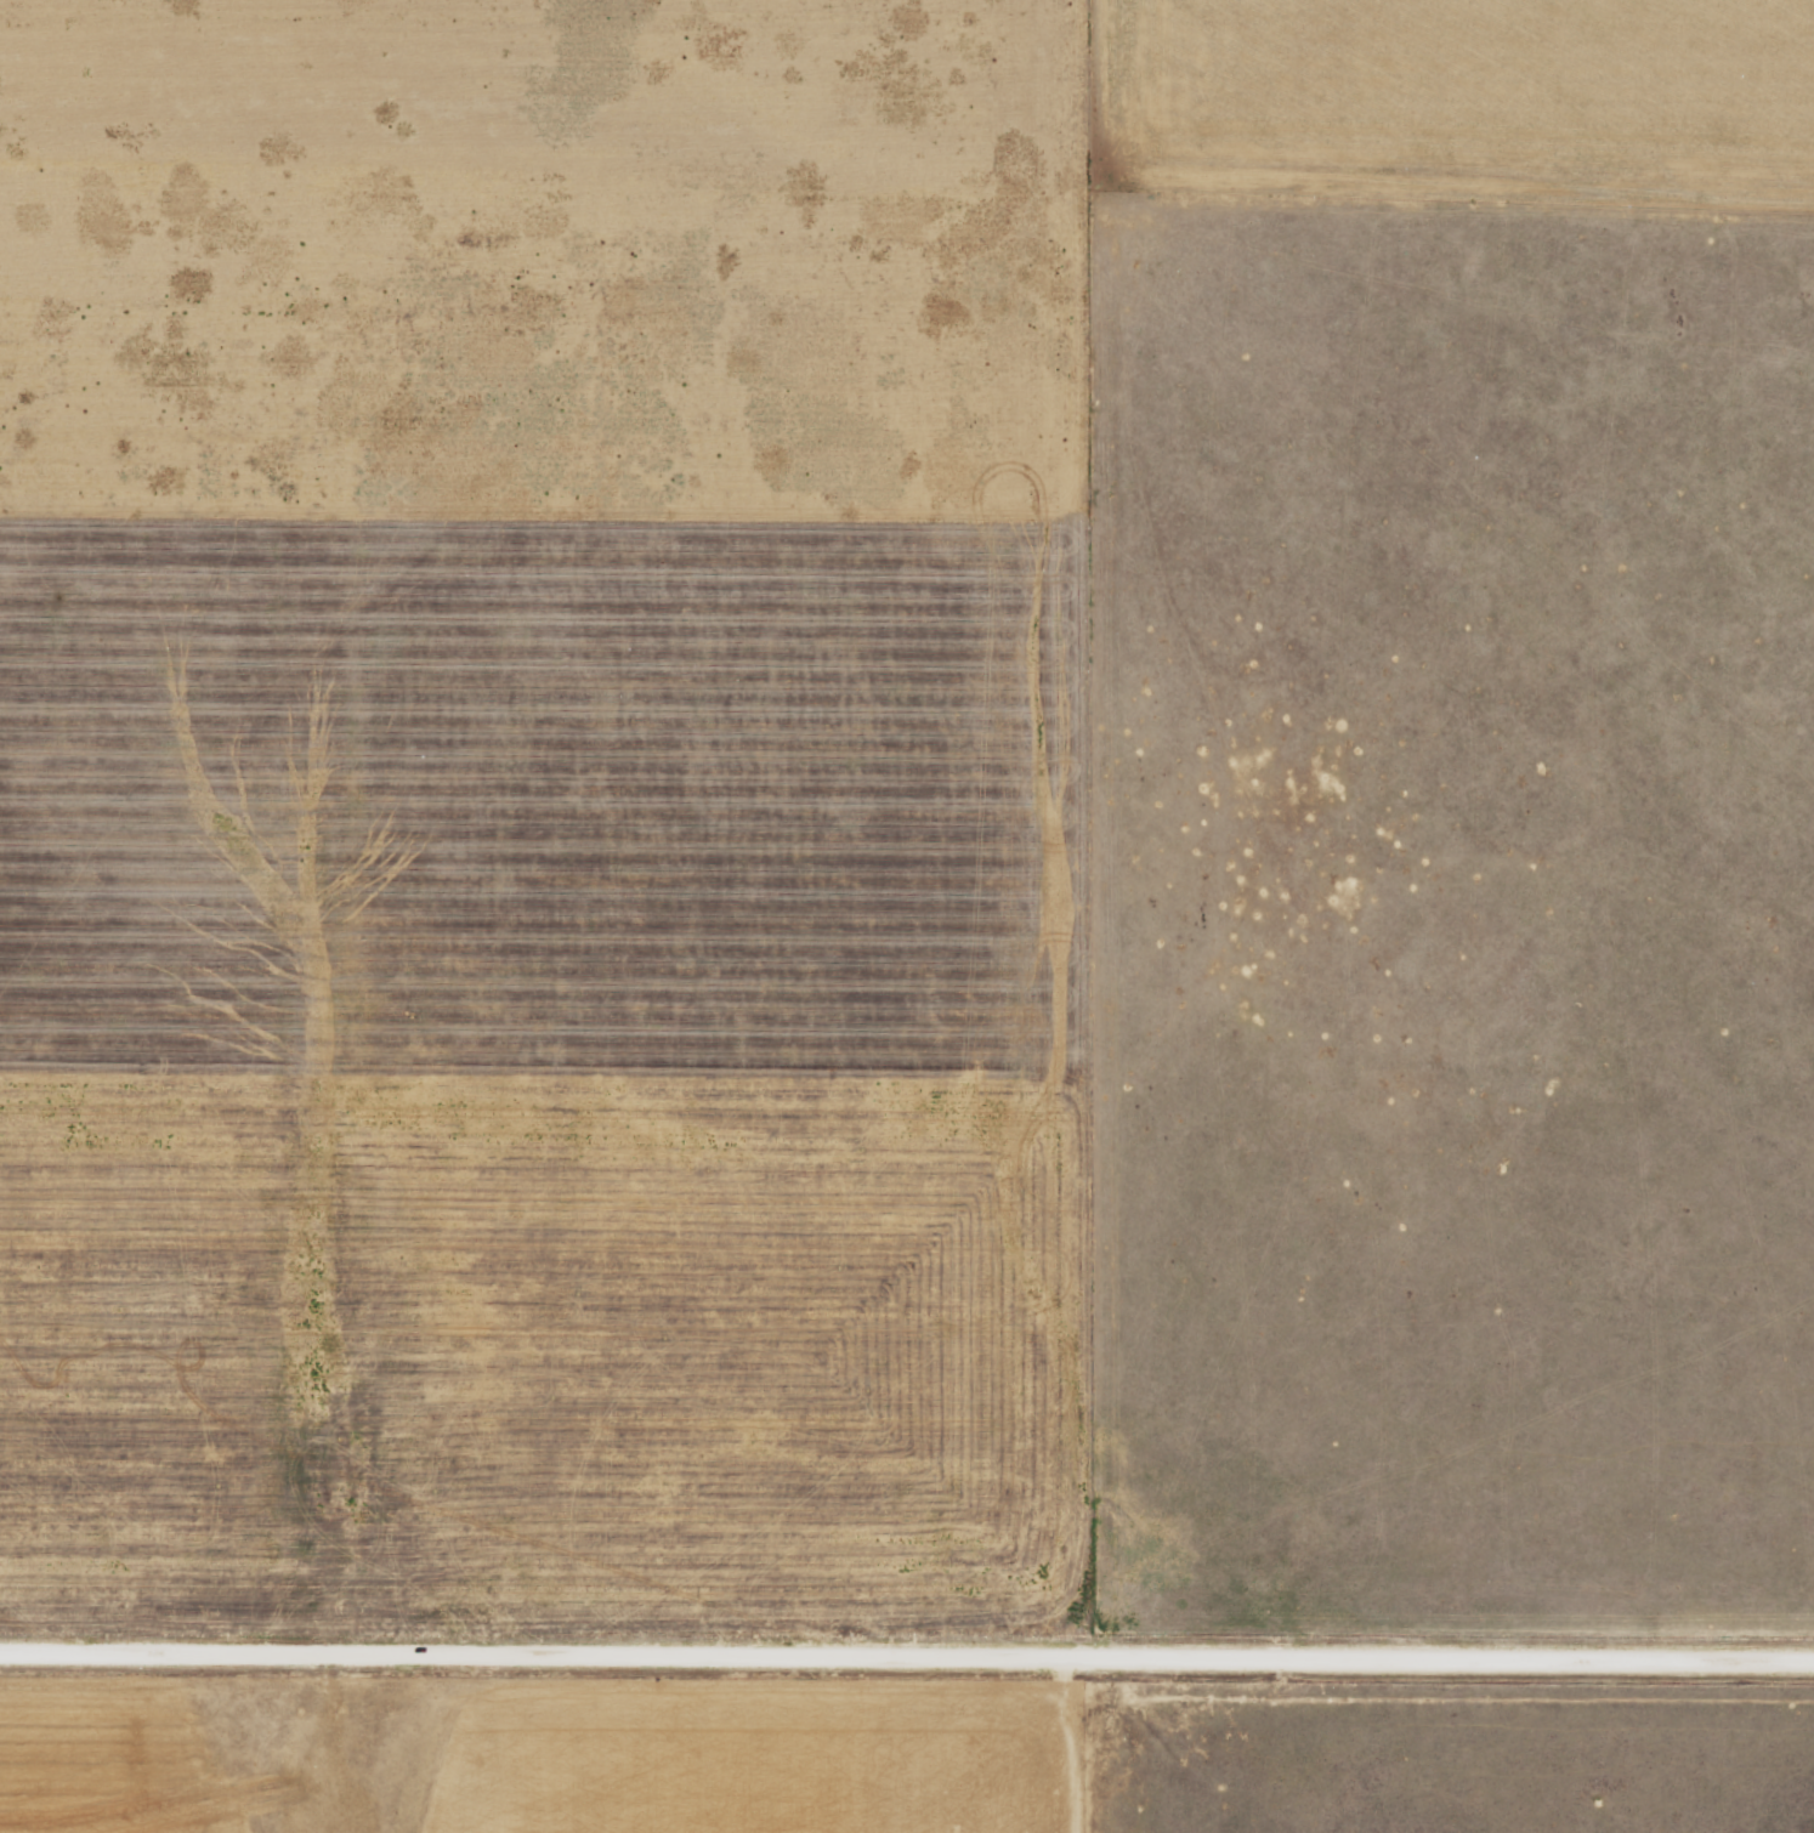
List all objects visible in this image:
road: (907, 1655)

